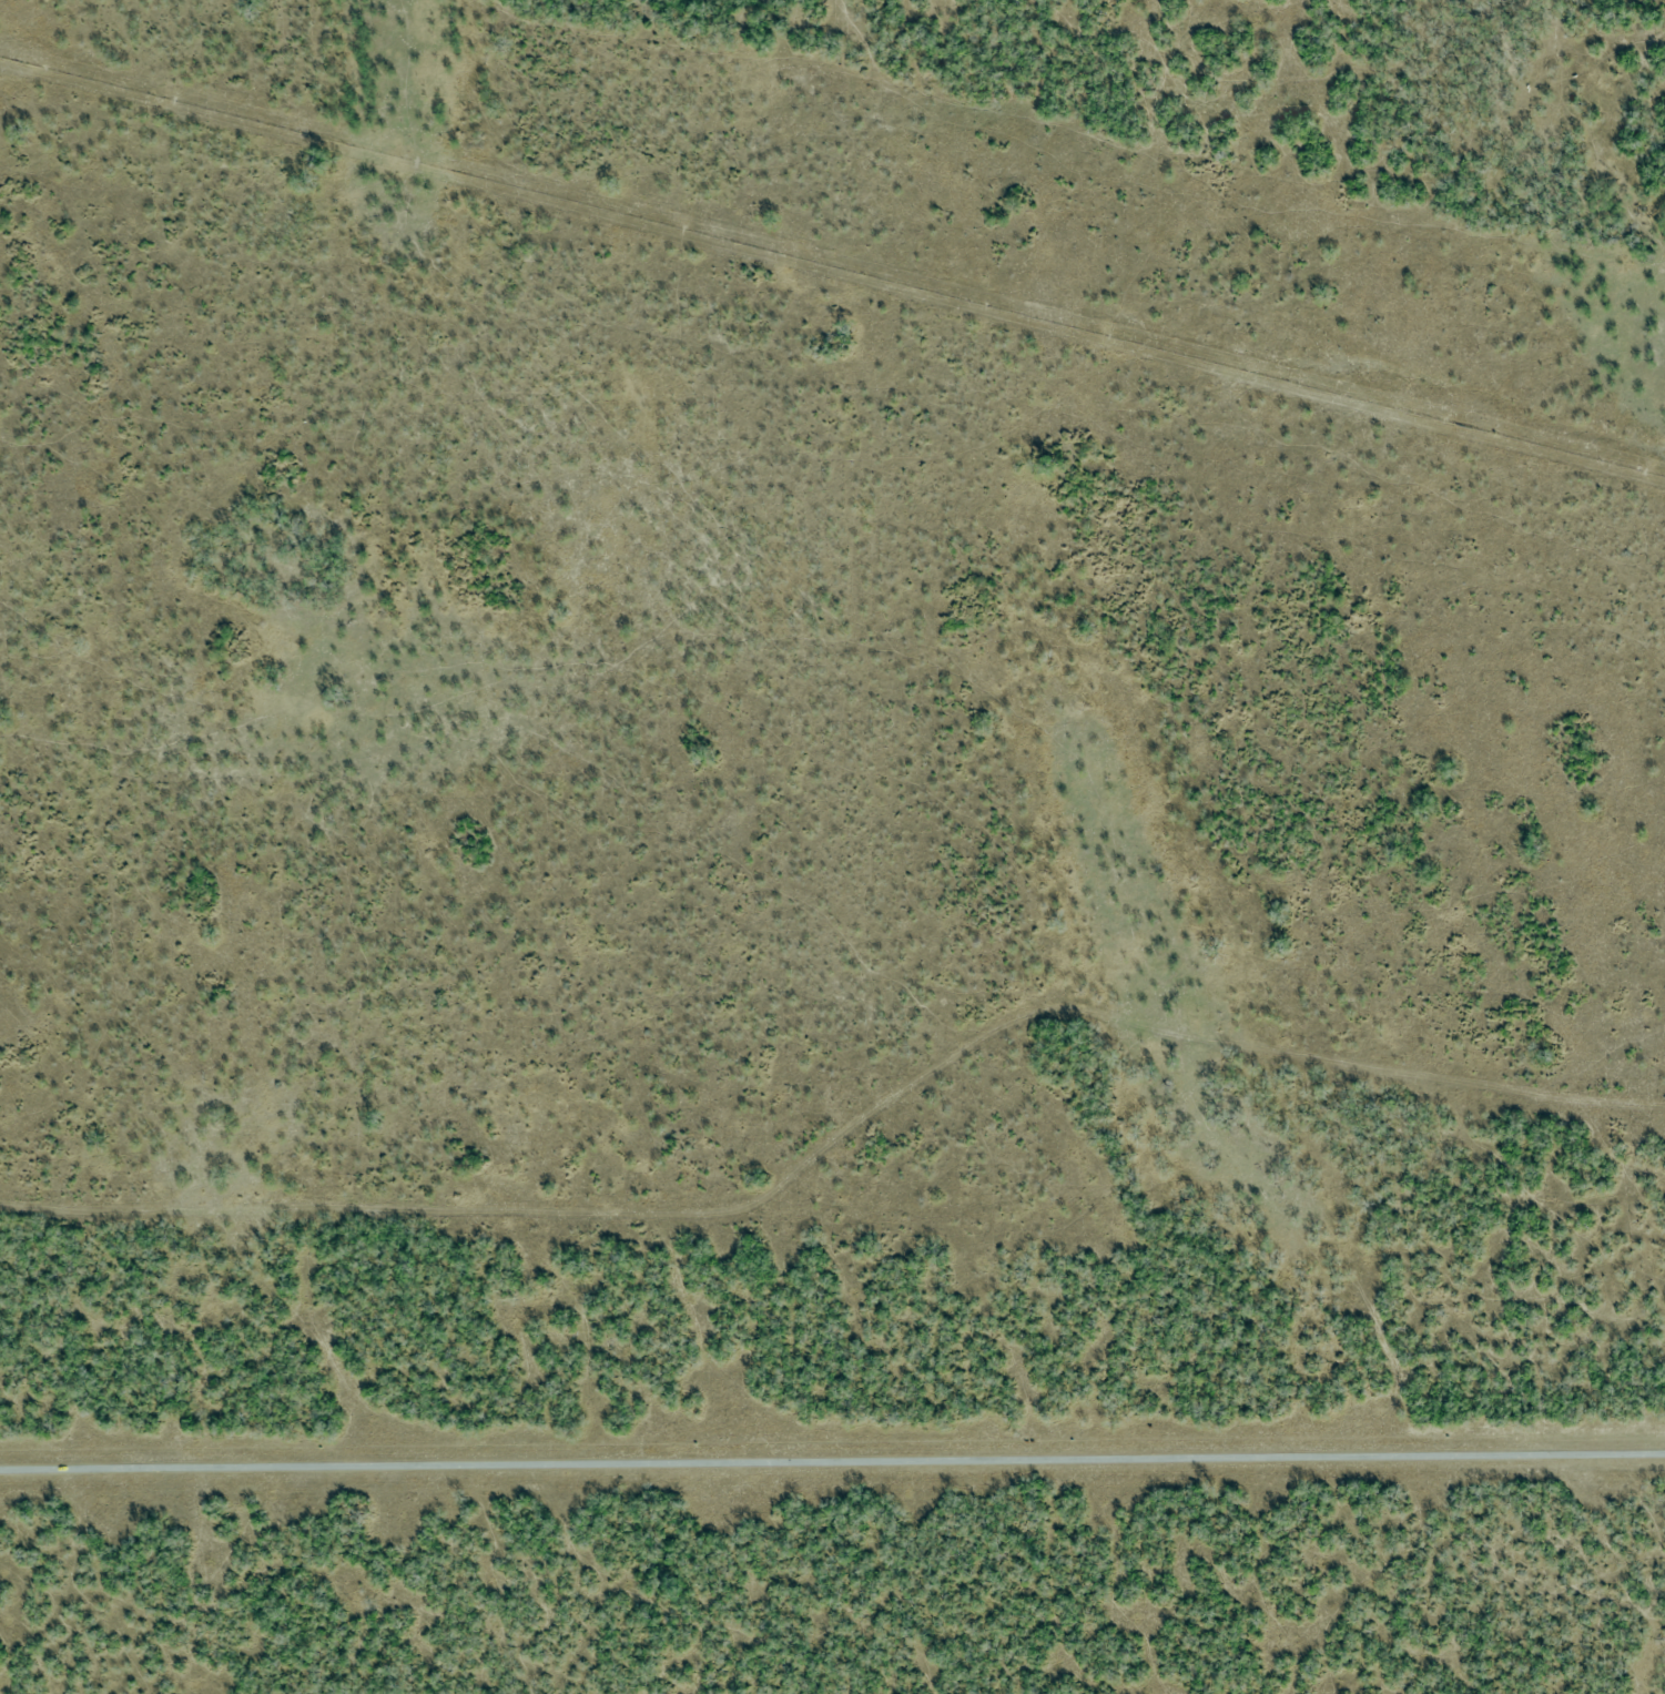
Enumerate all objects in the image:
road: (832, 1424)

